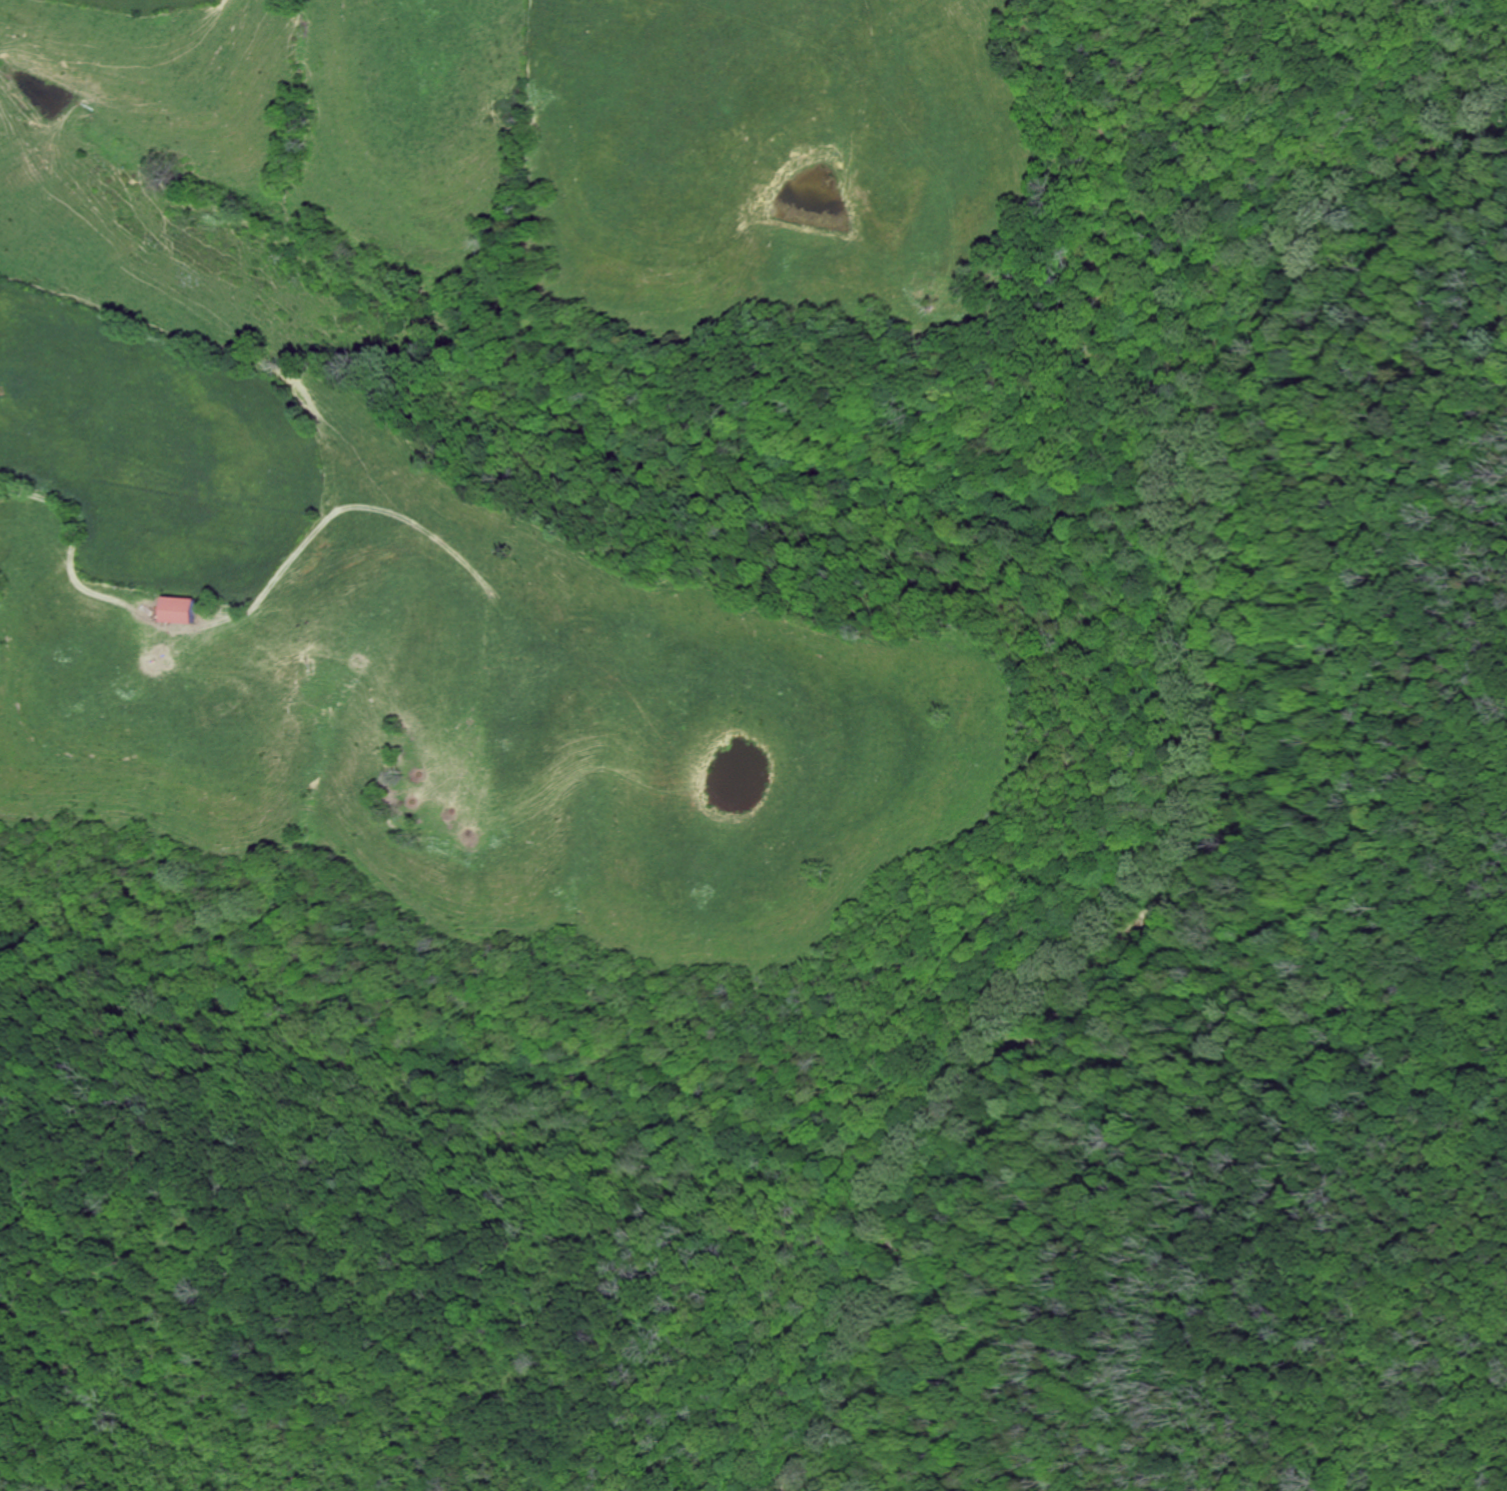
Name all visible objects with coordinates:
road: (67, 554)

